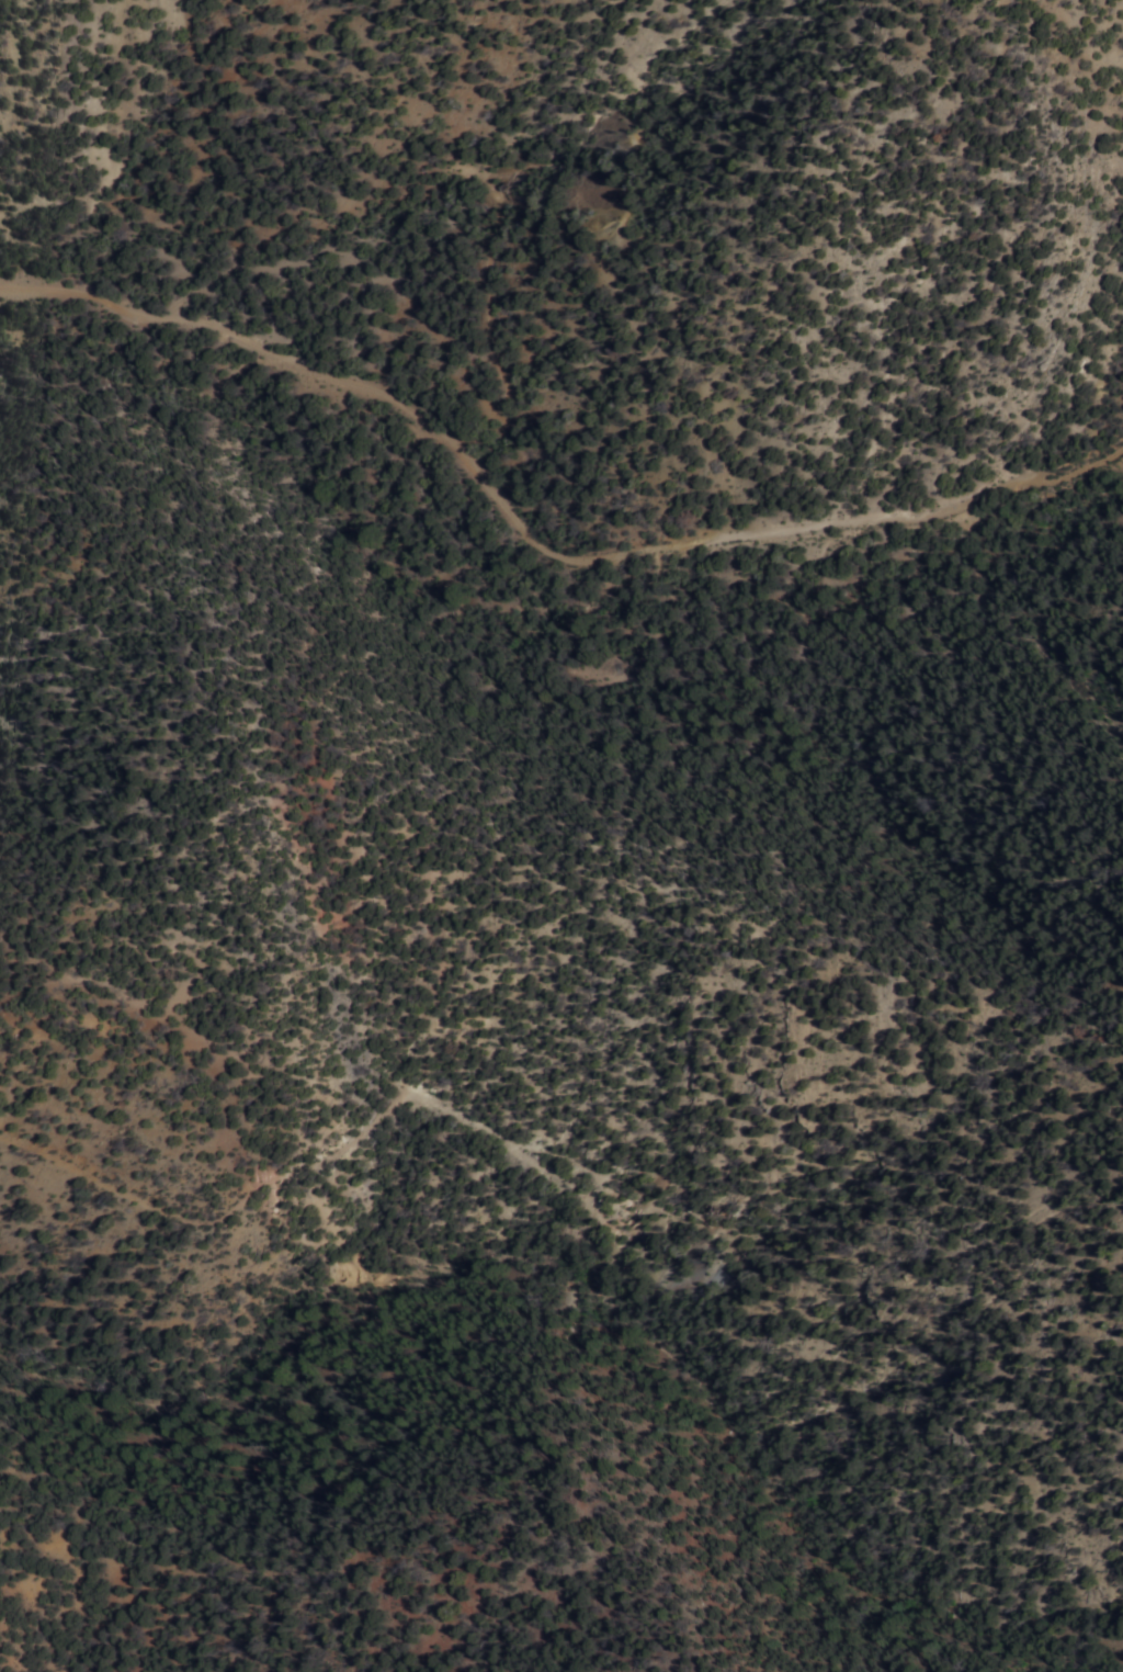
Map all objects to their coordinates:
mineshaft: (659, 120)
mineshaft: (716, 189)
road: (534, 536)
road: (327, 1159)

